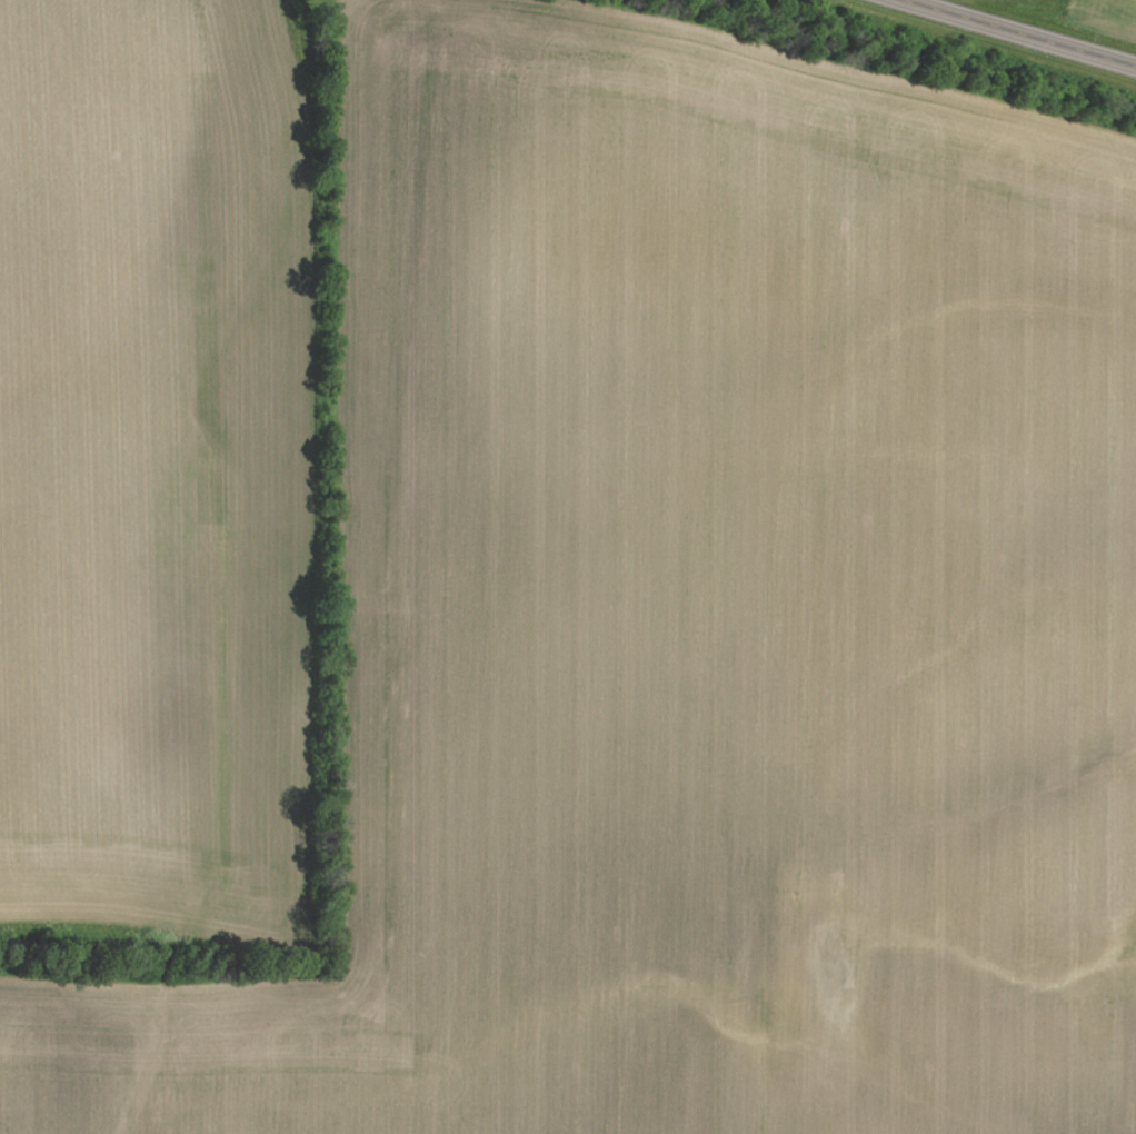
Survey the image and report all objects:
road: (1022, 32)

